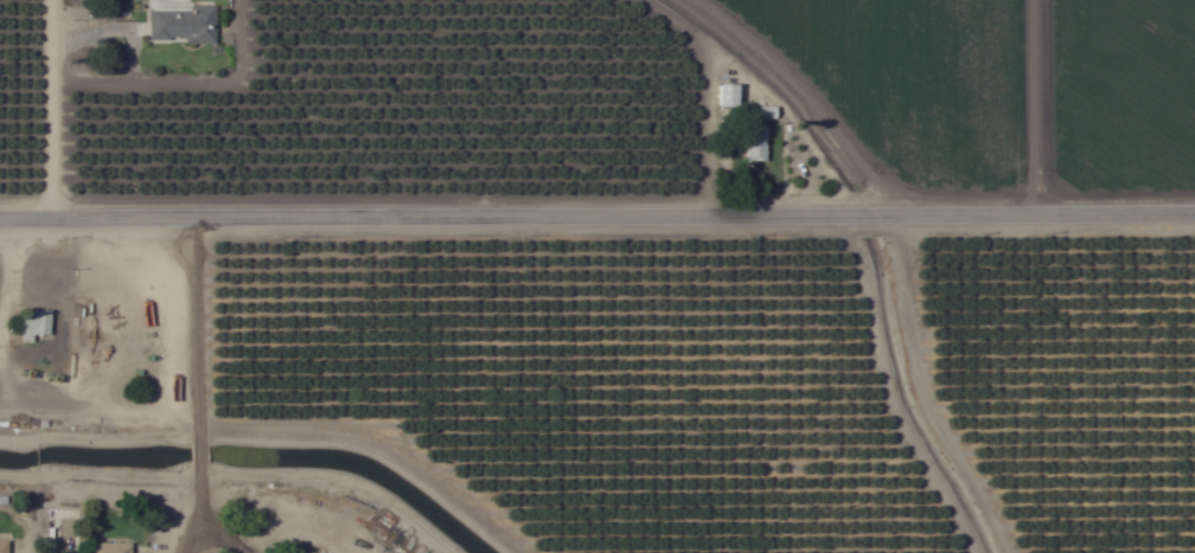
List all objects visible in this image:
building: (179, 24)
road: (46, 103)
building: (723, 109)
building: (753, 149)
road: (596, 206)
crop: (597, 276)
building: (33, 327)
road: (192, 380)
building: (1, 547)
building: (108, 548)

